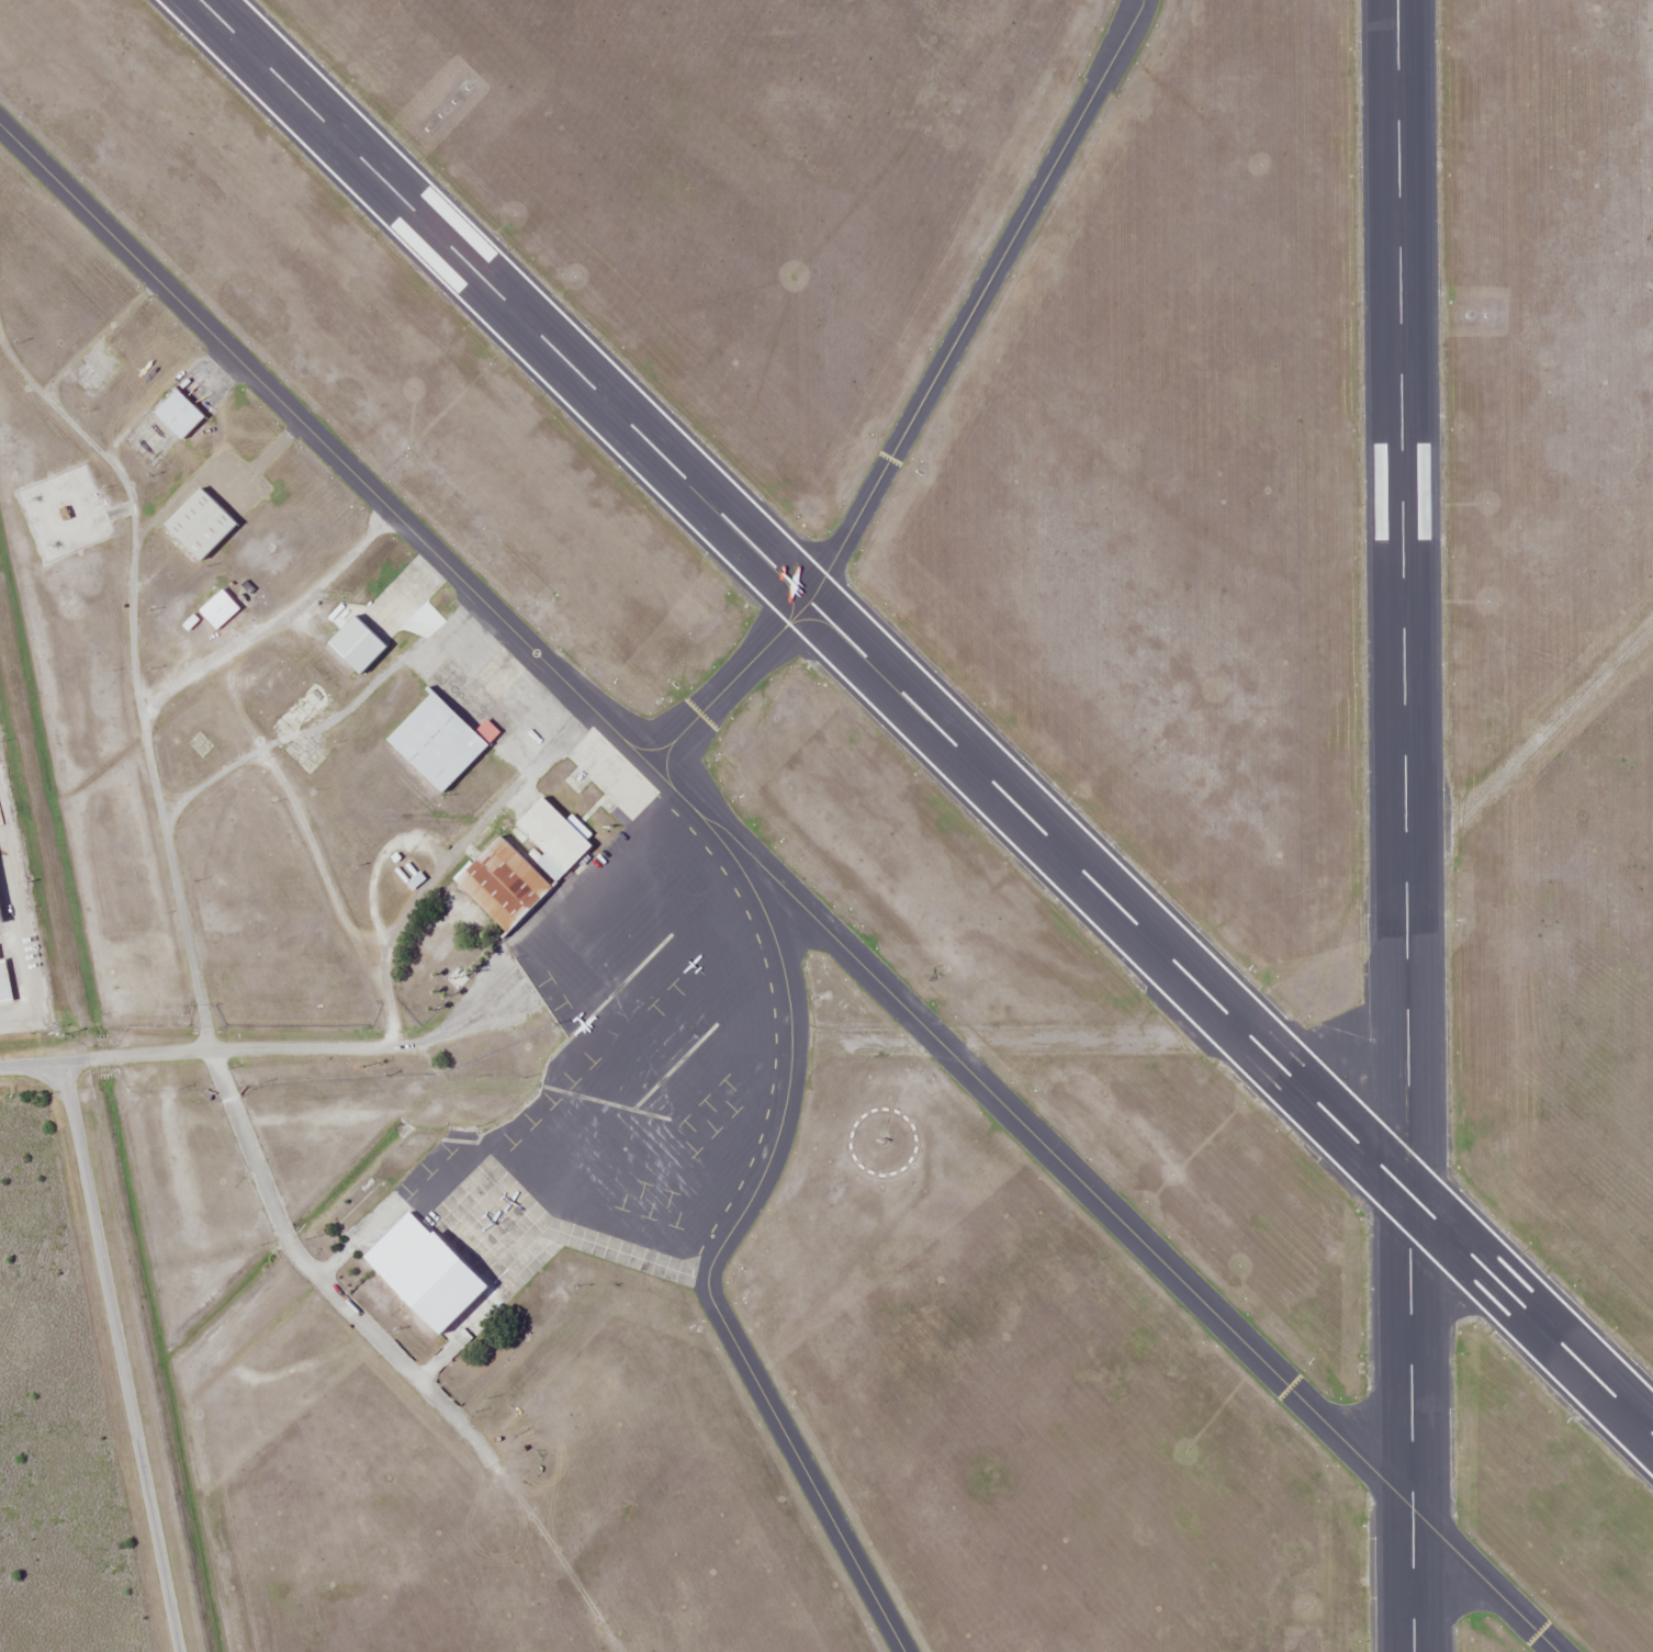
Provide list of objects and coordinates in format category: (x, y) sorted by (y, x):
building: (86, 378)
airport taxiway: (923, 400)
building: (176, 413)
building: (195, 521)
building: (214, 606)
building: (351, 643)
airport runway: (929, 717)
building: (436, 741)
airport: (854, 805)
airport runway: (1406, 825)
building: (552, 833)
airport taxiway: (777, 885)
building: (506, 900)
building: (3, 984)
airport apron: (639, 1015)
road: (206, 1048)
airport taxiway: (751, 1215)
building: (419, 1273)
building: (474, 1314)
road: (119, 1356)

